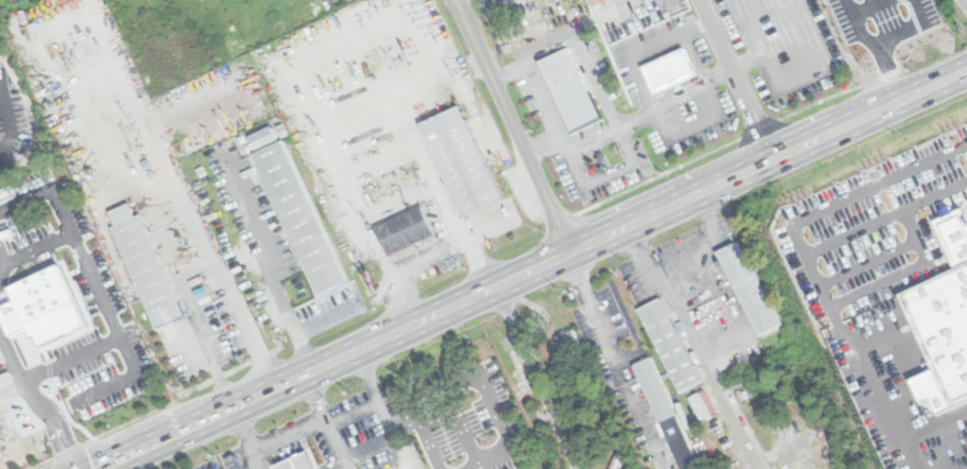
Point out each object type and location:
road: (963, 4)
road: (417, 15)
road: (714, 35)
road: (573, 40)
building: (668, 70)
building: (569, 90)
road: (673, 97)
road: (513, 126)
building: (264, 140)
building: (461, 161)
road: (864, 188)
building: (299, 216)
building: (404, 231)
building: (954, 236)
road: (867, 262)
road: (266, 264)
building: (145, 265)
road: (531, 268)
road: (903, 271)
building: (748, 288)
road: (820, 290)
building: (45, 308)
building: (71, 330)
building: (942, 338)
building: (567, 340)
building: (669, 344)
road: (695, 345)
road: (227, 346)
road: (534, 377)
building: (654, 389)
building: (617, 461)
building: (295, 463)

